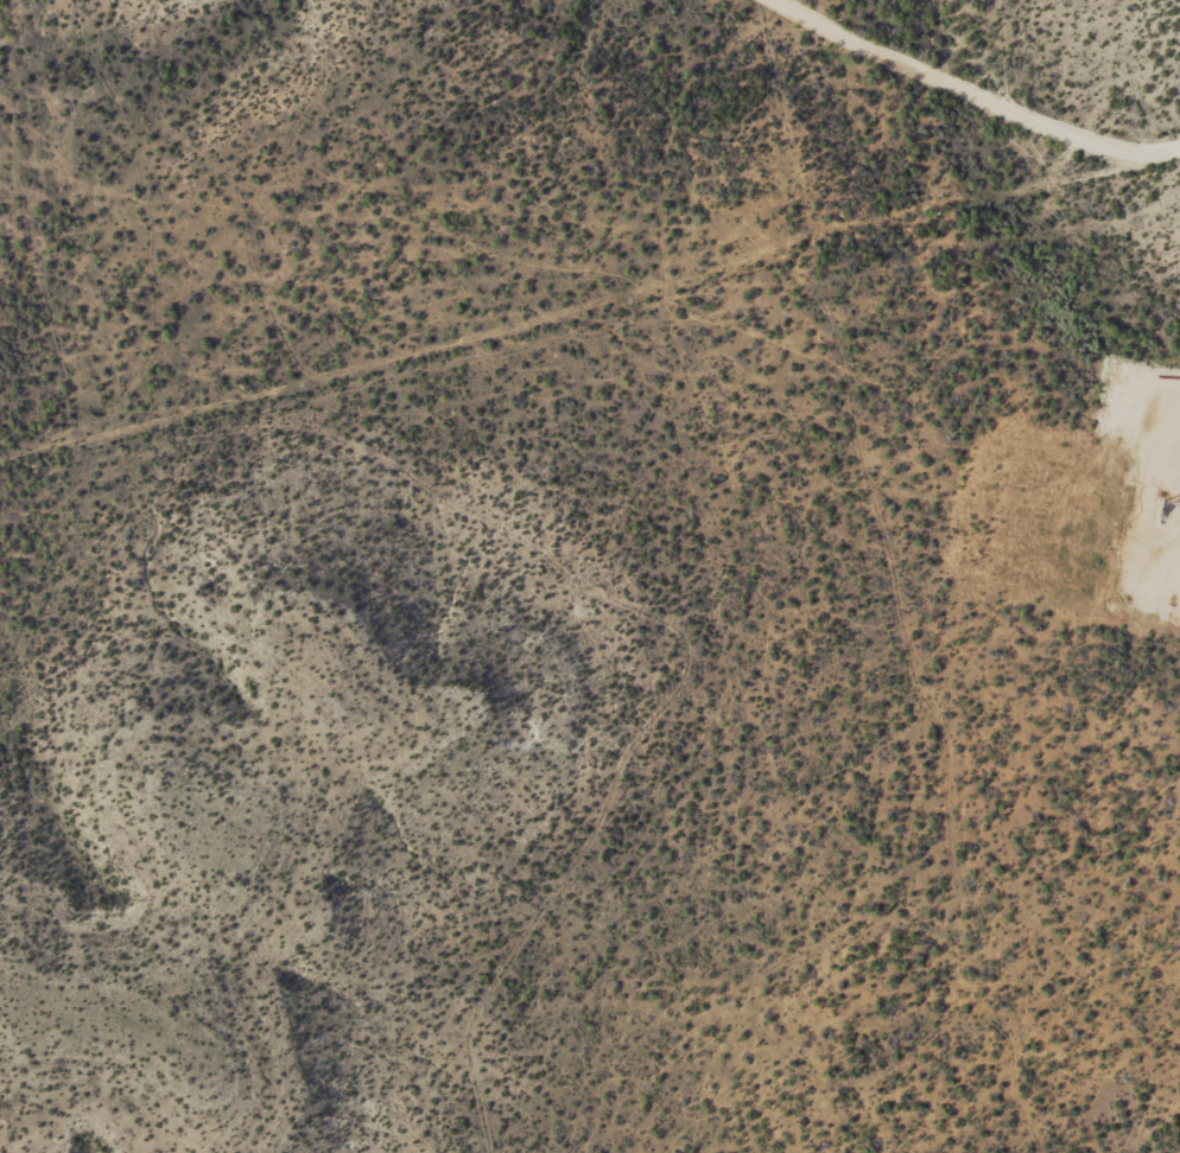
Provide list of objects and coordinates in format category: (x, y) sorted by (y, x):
road: (958, 103)

